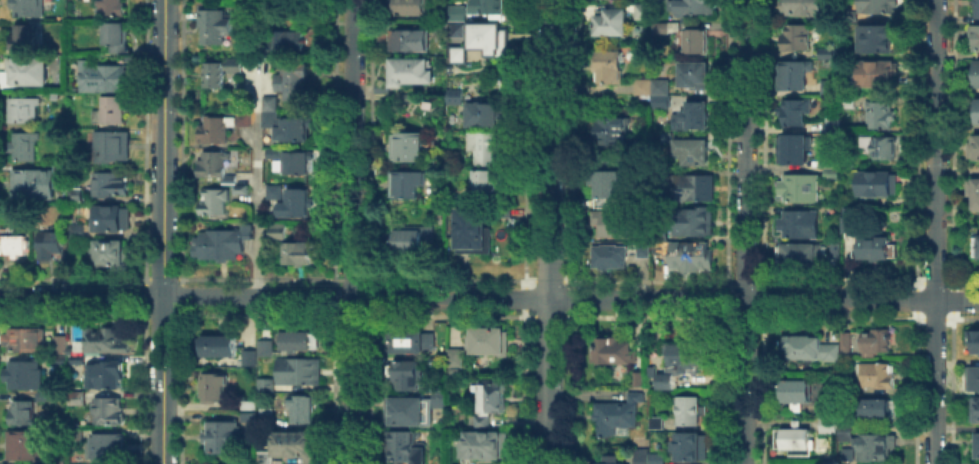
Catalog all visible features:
building: (488, 7)
building: (696, 7)
building: (879, 7)
building: (32, 8)
building: (409, 8)
building: (806, 8)
building: (114, 9)
building: (647, 9)
building: (977, 10)
building: (459, 16)
building: (214, 24)
building: (613, 26)
building: (659, 26)
building: (674, 26)
building: (879, 37)
building: (661, 38)
building: (26, 39)
building: (289, 39)
building: (488, 39)
building: (976, 39)
building: (121, 40)
building: (798, 40)
building: (261, 42)
building: (410, 42)
building: (698, 43)
building: (829, 55)
building: (460, 56)
building: (220, 69)
building: (611, 69)
building: (975, 72)
building: (30, 73)
building: (414, 74)
building: (794, 76)
building: (878, 76)
building: (109, 78)
building: (292, 78)
building: (697, 78)
building: (827, 86)
building: (383, 90)
building: (656, 92)
building: (459, 98)
building: (411, 100)
building: (270, 101)
building: (113, 111)
building: (26, 112)
building: (795, 112)
building: (881, 116)
building: (244, 117)
building: (485, 117)
building: (978, 117)
building: (693, 120)
building: (287, 125)
building: (216, 127)
building: (614, 132)
building: (667, 136)
building: (489, 147)
building: (882, 147)
building: (26, 148)
building: (114, 148)
building: (409, 149)
building: (976, 150)
building: (273, 151)
building: (796, 151)
building: (694, 155)
building: (296, 159)
building: (215, 164)
road: (256, 176)
building: (834, 176)
building: (408, 185)
building: (38, 186)
building: (115, 186)
building: (492, 186)
building: (240, 187)
building: (882, 187)
building: (274, 190)
building: (610, 190)
building: (695, 190)
building: (801, 190)
building: (79, 195)
building: (975, 196)
building: (214, 199)
building: (295, 202)
building: (845, 220)
building: (116, 221)
building: (695, 222)
building: (614, 226)
building: (803, 226)
building: (851, 227)
building: (277, 228)
building: (79, 231)
road: (352, 231)
road: (548, 231)
road: (934, 231)
road: (163, 232)
road: (746, 232)
building: (476, 233)
building: (222, 241)
building: (410, 241)
building: (51, 245)
building: (16, 247)
building: (879, 249)
building: (976, 249)
building: (641, 250)
building: (299, 251)
building: (647, 252)
building: (112, 253)
building: (838, 254)
building: (693, 257)
building: (611, 258)
building: (803, 258)
road: (489, 297)
building: (23, 337)
building: (297, 338)
building: (102, 339)
building: (408, 339)
building: (972, 339)
building: (492, 341)
building: (58, 342)
building: (879, 343)
building: (215, 344)
building: (264, 345)
building: (847, 345)
building: (69, 349)
building: (611, 349)
building: (804, 351)
building: (832, 354)
building: (248, 356)
building: (684, 357)
building: (58, 358)
building: (77, 358)
building: (457, 359)
building: (297, 369)
building: (650, 369)
building: (22, 372)
building: (103, 373)
building: (405, 373)
building: (879, 375)
building: (638, 377)
building: (972, 377)
building: (664, 379)
building: (264, 383)
building: (211, 385)
building: (797, 393)
building: (42, 394)
building: (75, 396)
building: (495, 396)
building: (438, 397)
building: (248, 403)
building: (303, 407)
building: (974, 407)
building: (689, 408)
building: (105, 409)
building: (408, 409)
building: (827, 409)
building: (619, 411)
building: (22, 412)
building: (877, 412)
building: (247, 415)
building: (265, 415)
building: (656, 421)
building: (483, 423)
building: (830, 428)
building: (844, 433)
building: (220, 435)
building: (796, 440)
building: (28, 443)
building: (105, 443)
building: (294, 443)
building: (977, 443)
building: (404, 445)
building: (690, 445)
building: (485, 446)
building: (878, 450)
building: (641, 455)
building: (263, 456)
building: (656, 457)
building: (60, 459)
building: (609, 459)

